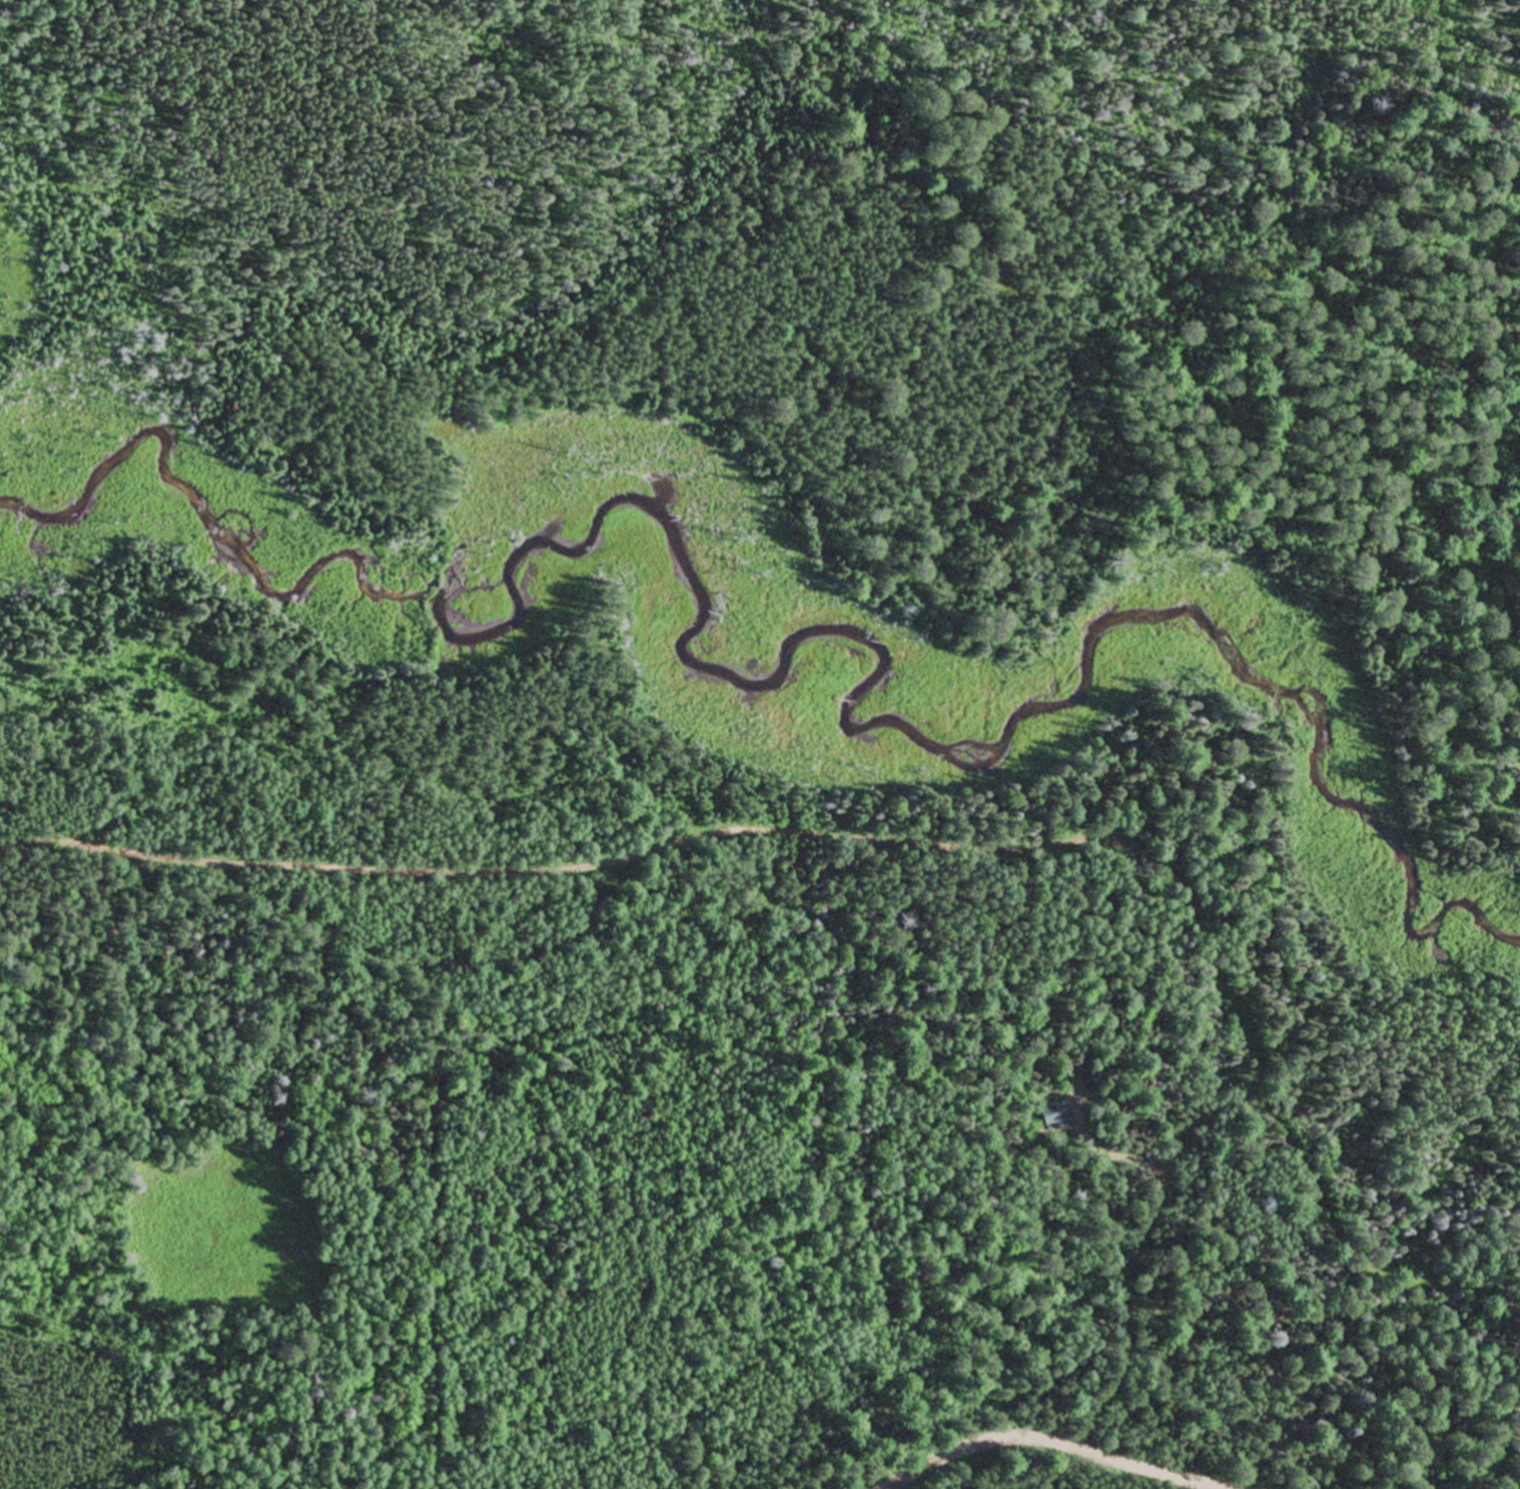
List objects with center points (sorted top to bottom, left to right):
road: (1070, 1436)

